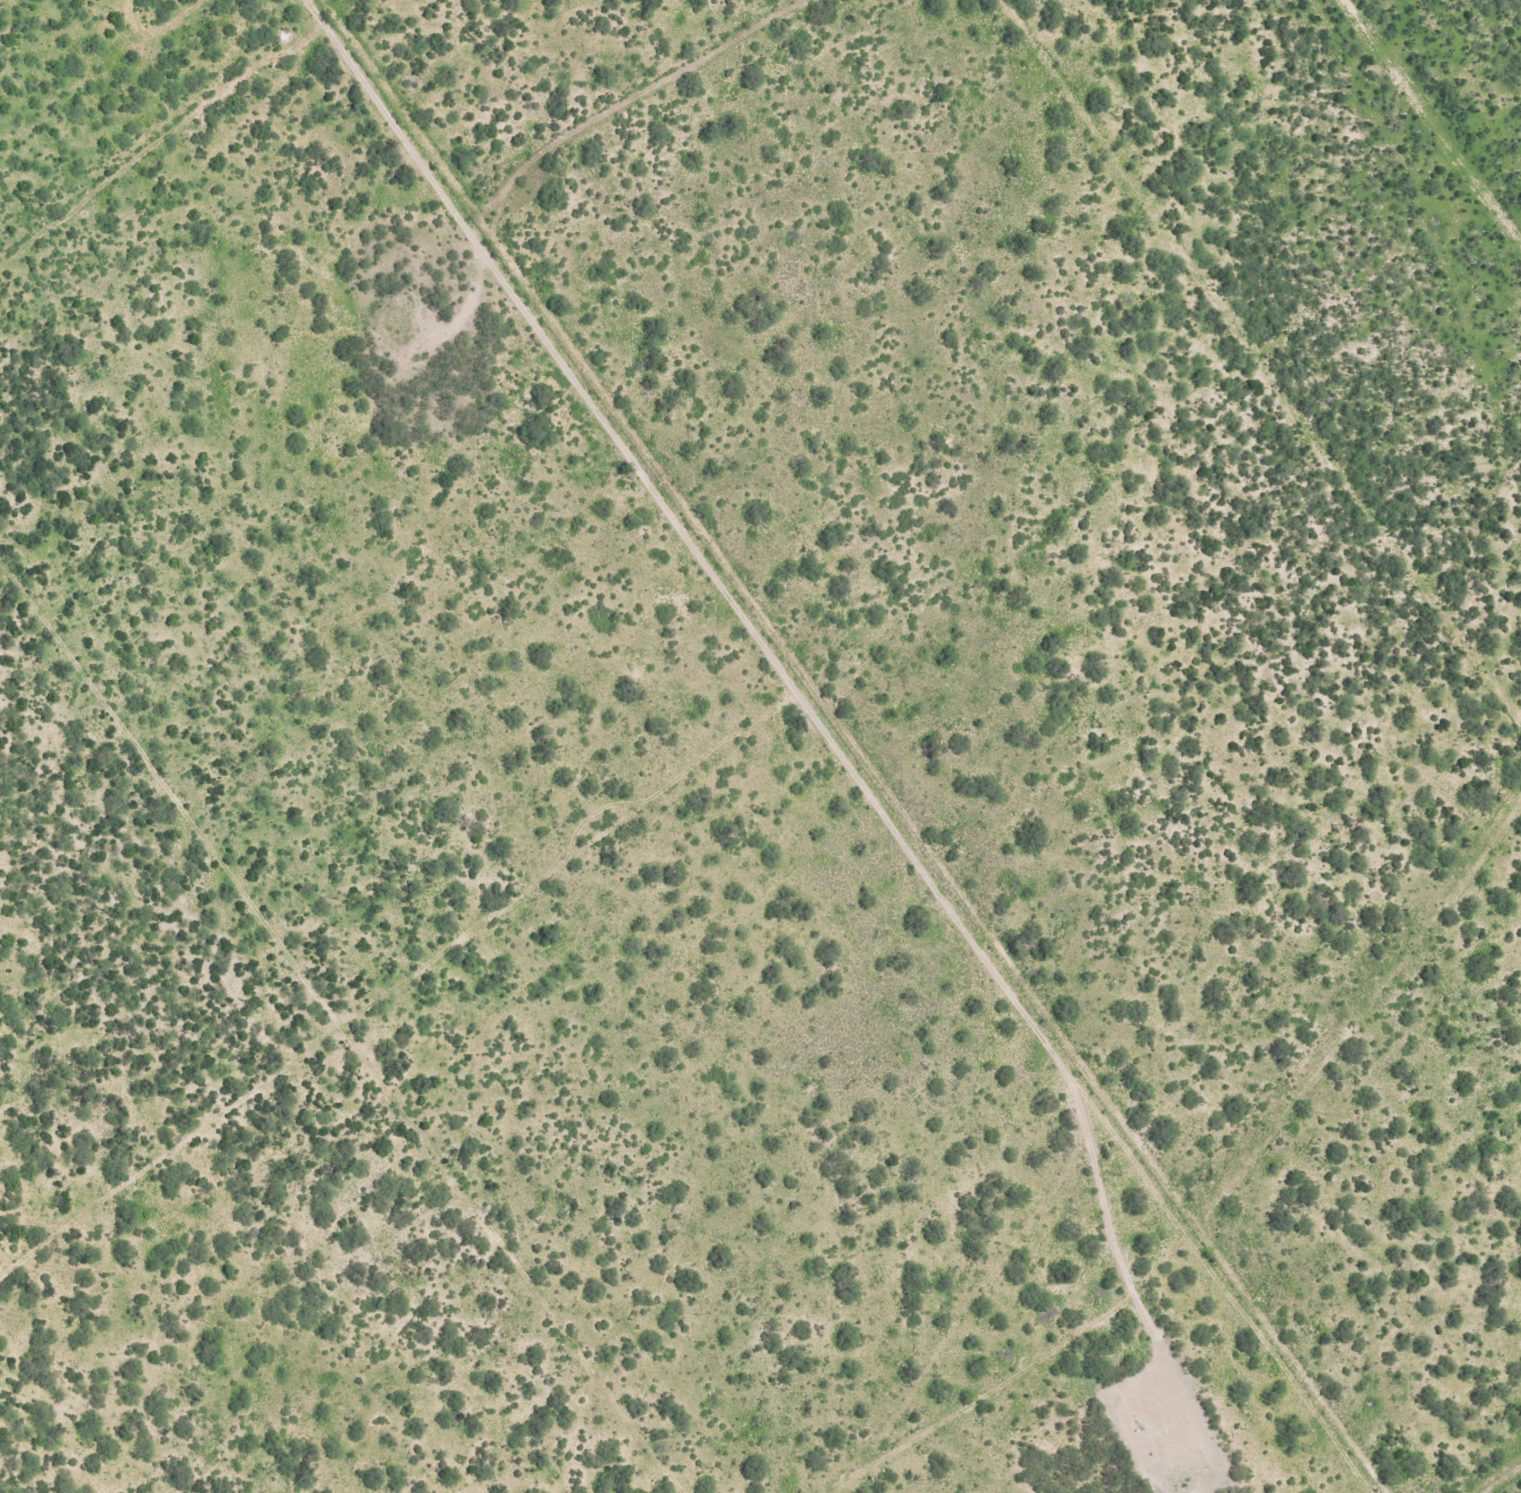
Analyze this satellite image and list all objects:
road: (1519, 1492)

